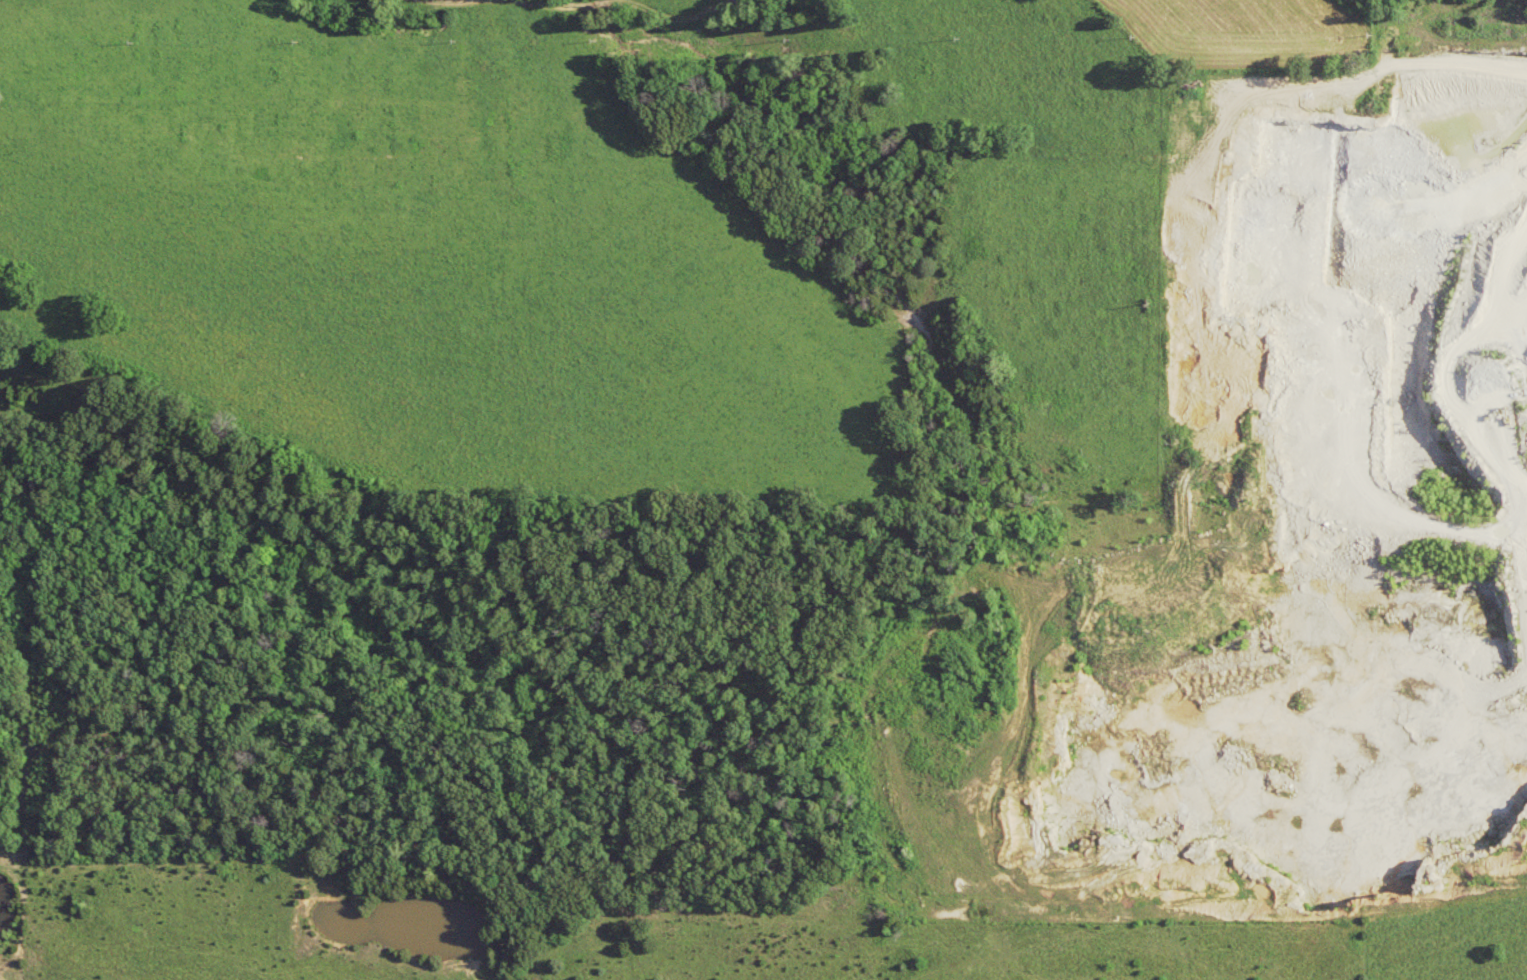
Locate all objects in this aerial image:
quarry: (1317, 625)

